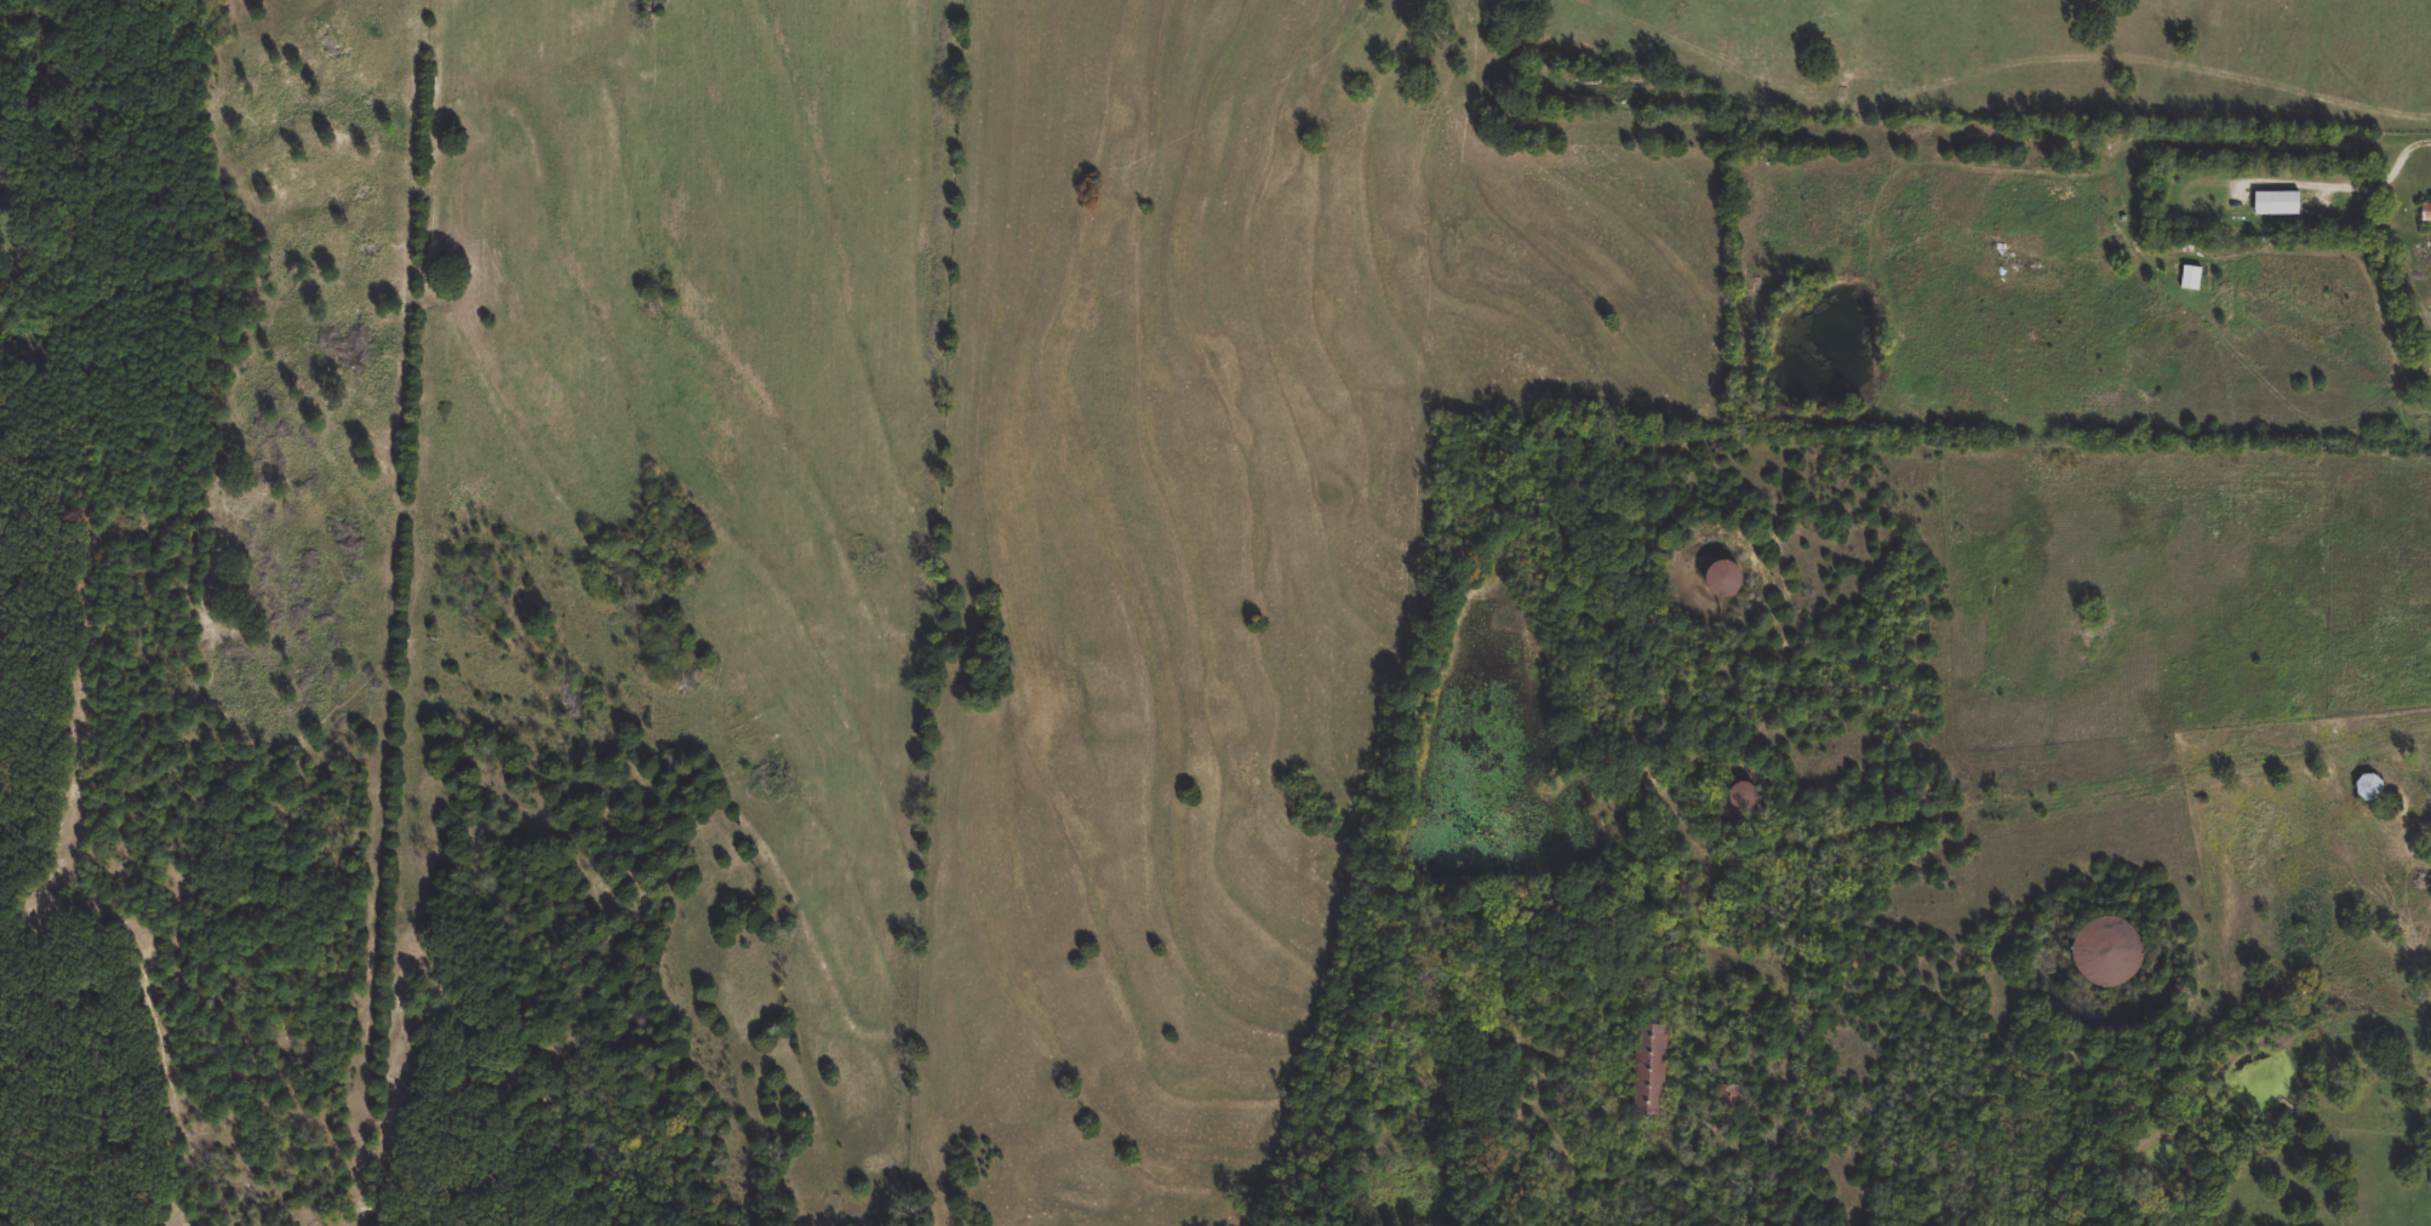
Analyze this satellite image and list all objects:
road: (2384, 177)
building: (2278, 204)
building: (2426, 213)
building: (2195, 280)
building: (2372, 787)
building: (1741, 796)
building: (2110, 946)
building: (1649, 1070)

